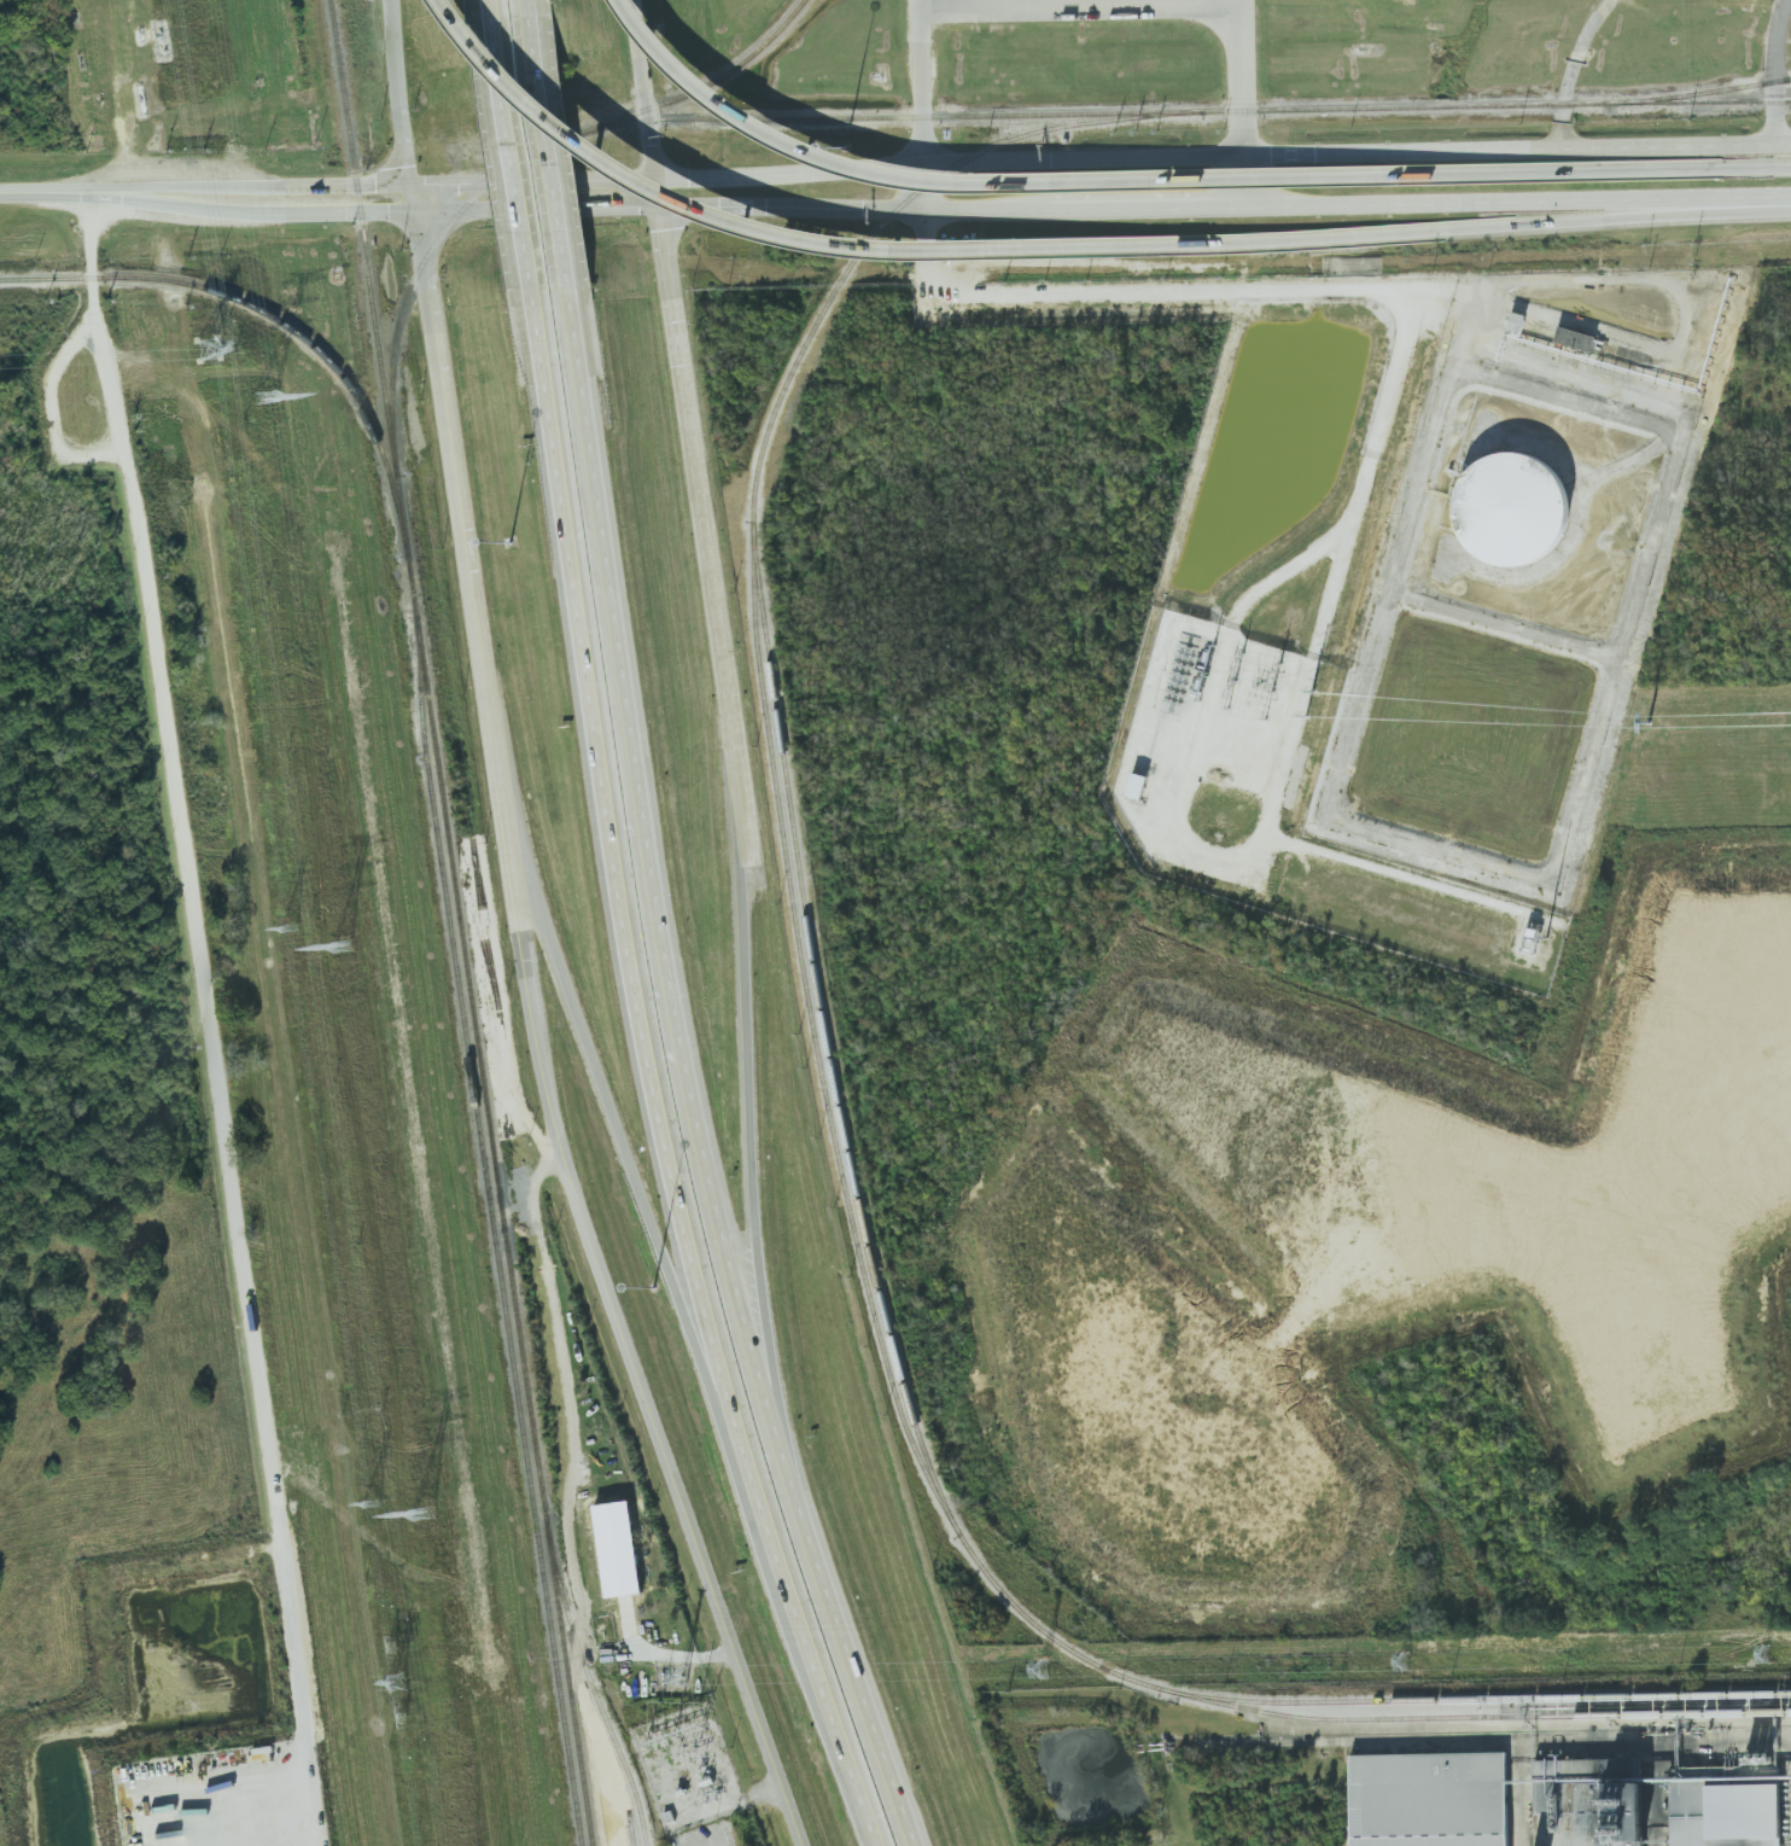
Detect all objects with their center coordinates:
road: (1081, 4)
road: (392, 24)
road: (1573, 69)
road: (1775, 70)
road: (1243, 76)
road: (923, 81)
railway: (1700, 93)
road: (648, 104)
railway: (1186, 111)
road: (402, 116)
road: (549, 151)
road: (509, 152)
road: (894, 163)
railway: (508, 165)
road: (1708, 170)
road: (1245, 180)
road: (1091, 184)
road: (922, 185)
road: (413, 196)
road: (206, 208)
road: (1103, 208)
road: (1551, 217)
road: (419, 237)
road: (838, 243)
road: (673, 267)
railway: (274, 318)
building: (1517, 321)
road: (434, 337)
building: (1575, 338)
power tower: (206, 350)
power tower: (264, 398)
road: (47, 413)
building: (1511, 509)
storage tank: (1511, 509)
road: (466, 549)
road: (710, 555)
building: (1137, 786)
road: (661, 848)
road: (619, 870)
railway: (461, 922)
power tower: (290, 928)
power tower: (344, 948)
road: (206, 1014)
railway: (824, 1035)
road: (595, 1065)
road: (749, 1088)
railway: (835, 1143)
railway: (495, 1231)
road: (603, 1277)
road: (558, 1315)
power tower: (380, 1503)
power tower: (424, 1514)
building: (618, 1549)
road: (850, 1618)
road: (811, 1637)
power tower: (392, 1648)
power tower: (1764, 1653)
road: (665, 1655)
power tower: (1405, 1660)
power tower: (1044, 1669)
power tower: (684, 1677)
power tower: (401, 1684)
railway: (593, 1684)
railway: (1474, 1717)
power tower: (403, 1718)
power substation: (688, 1769)
building: (1430, 1799)
building: (1597, 1803)
building: (1728, 1809)
railway: (631, 1828)

